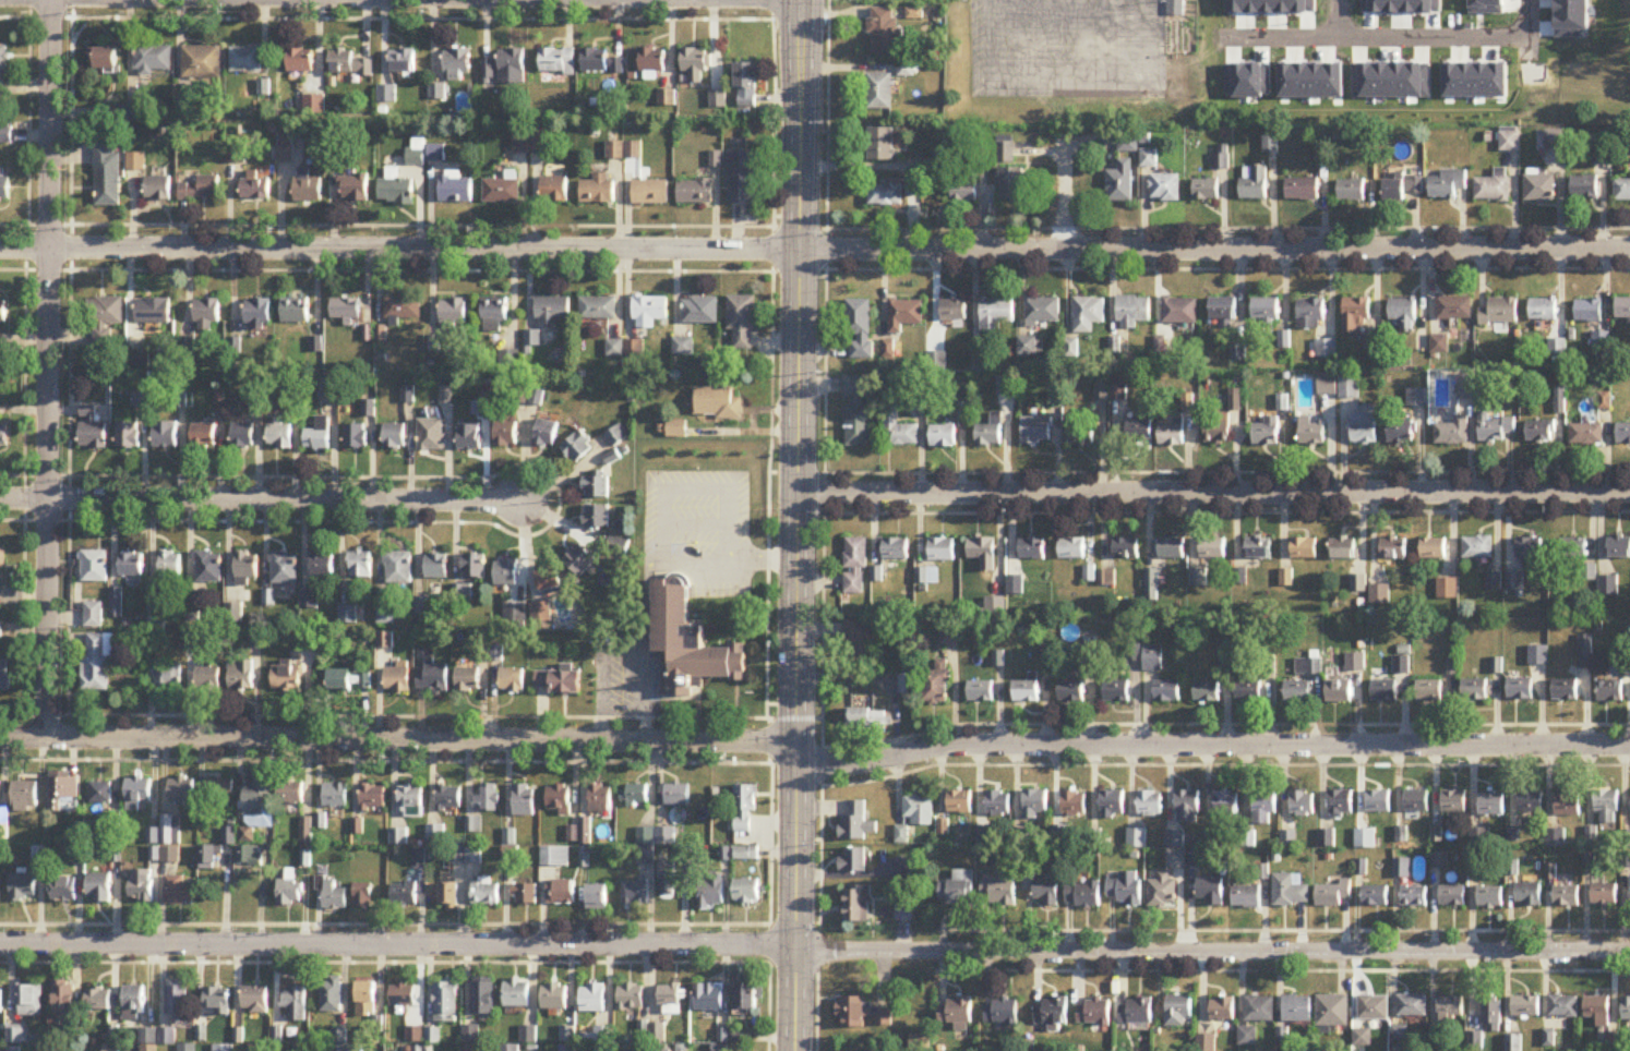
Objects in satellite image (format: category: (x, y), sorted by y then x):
building: (1176, 8)
road: (1060, 9)
road: (386, 16)
road: (1337, 19)
building: (887, 33)
road: (1389, 36)
building: (154, 59)
building: (106, 60)
building: (652, 60)
building: (247, 61)
building: (301, 61)
building: (403, 61)
building: (558, 61)
building: (202, 63)
building: (457, 63)
building: (601, 63)
building: (3, 64)
building: (349, 64)
building: (695, 65)
building: (505, 69)
road: (1017, 74)
building: (747, 85)
building: (436, 93)
building: (880, 93)
building: (314, 105)
road: (28, 111)
building: (5, 134)
building: (1555, 140)
building: (1510, 142)
building: (1129, 143)
building: (523, 145)
building: (540, 145)
building: (882, 145)
building: (1007, 154)
building: (1601, 154)
building: (286, 156)
building: (1150, 159)
building: (107, 174)
road: (827, 176)
building: (743, 177)
building: (1122, 183)
building: (1255, 183)
building: (3, 184)
building: (1448, 184)
building: (256, 185)
building: (1012, 185)
building: (1541, 186)
building: (308, 188)
building: (1494, 188)
building: (1584, 188)
building: (158, 189)
building: (201, 189)
building: (356, 189)
building: (1166, 189)
building: (1404, 189)
building: (504, 190)
building: (556, 190)
building: (600, 190)
building: (916, 190)
building: (1208, 190)
building: (1303, 190)
building: (1352, 190)
building: (397, 191)
building: (457, 191)
building: (1622, 191)
building: (651, 192)
building: (696, 192)
building: (963, 192)
road: (1067, 193)
building: (887, 195)
road: (814, 227)
road: (815, 247)
road: (814, 268)
building: (1455, 307)
building: (404, 309)
building: (599, 309)
building: (1543, 309)
building: (1622, 309)
building: (295, 310)
building: (346, 310)
building: (553, 310)
building: (1223, 310)
building: (1266, 310)
building: (106, 311)
building: (153, 311)
building: (700, 311)
building: (955, 311)
building: (1589, 311)
building: (257, 312)
building: (650, 312)
building: (1043, 312)
building: (1135, 312)
building: (1180, 312)
building: (1499, 312)
building: (454, 313)
building: (998, 313)
building: (1404, 313)
building: (2, 314)
building: (207, 314)
building: (906, 314)
building: (1311, 314)
building: (495, 315)
building: (1089, 315)
building: (1356, 315)
building: (743, 321)
building: (861, 328)
building: (1028, 346)
building: (684, 347)
building: (1326, 349)
building: (616, 353)
road: (70, 357)
road: (771, 358)
road: (47, 367)
building: (1466, 386)
building: (328, 390)
building: (718, 403)
building: (858, 410)
building: (1496, 427)
building: (1218, 428)
building: (92, 430)
building: (899, 430)
building: (1364, 430)
building: (678, 431)
building: (1036, 431)
building: (1139, 431)
building: (991, 432)
building: (1266, 432)
building: (1402, 432)
building: (1539, 432)
building: (1311, 433)
building: (1453, 433)
building: (506, 434)
building: (547, 434)
building: (1081, 434)
building: (1586, 434)
building: (1622, 434)
building: (129, 435)
building: (166, 435)
building: (203, 435)
building: (280, 435)
building: (431, 435)
building: (1172, 435)
building: (3, 436)
building: (243, 436)
building: (319, 436)
building: (356, 436)
building: (395, 436)
building: (943, 436)
building: (470, 437)
building: (618, 437)
building: (578, 448)
road: (25, 468)
road: (1199, 471)
road: (695, 487)
building: (597, 488)
road: (1213, 491)
road: (262, 497)
road: (558, 498)
road: (1226, 510)
building: (597, 518)
road: (696, 522)
parking lot: (702, 524)
road: (795, 524)
road: (823, 525)
building: (618, 547)
building: (1618, 547)
building: (1170, 548)
building: (1213, 548)
building: (1259, 548)
building: (1477, 548)
building: (1573, 548)
building: (982, 549)
building: (1033, 549)
building: (1071, 549)
building: (1126, 549)
building: (1304, 549)
building: (1344, 549)
building: (1393, 549)
building: (1434, 549)
building: (943, 551)
building: (1530, 552)
building: (897, 554)
road: (760, 558)
building: (580, 560)
building: (131, 565)
building: (361, 565)
building: (170, 566)
building: (245, 566)
building: (323, 566)
building: (855, 566)
building: (94, 567)
building: (208, 567)
building: (436, 567)
building: (474, 567)
building: (1, 568)
building: (284, 569)
building: (398, 569)
building: (506, 573)
building: (1587, 573)
building: (927, 577)
building: (1106, 578)
building: (549, 579)
building: (1198, 579)
building: (1494, 580)
building: (1016, 585)
building: (1151, 585)
building: (1358, 585)
building: (1447, 590)
building: (463, 593)
building: (1380, 595)
road: (647, 611)
building: (347, 614)
building: (541, 614)
building: (94, 615)
building: (386, 615)
building: (158, 617)
building: (950, 637)
building: (691, 644)
building: (861, 644)
building: (1584, 652)
building: (1153, 659)
building: (98, 663)
building: (1355, 663)
building: (1401, 665)
building: (1308, 667)
road: (601, 668)
parking lot: (626, 672)
building: (241, 675)
building: (5, 676)
building: (168, 678)
building: (208, 678)
building: (287, 678)
building: (398, 678)
building: (433, 678)
building: (350, 680)
building: (468, 680)
building: (513, 680)
building: (559, 682)
building: (936, 684)
building: (907, 685)
building: (1248, 687)
building: (1520, 689)
building: (1565, 690)
building: (981, 691)
building: (1117, 691)
building: (1167, 691)
building: (1207, 691)
building: (1385, 691)
building: (1429, 691)
building: (1475, 691)
building: (1610, 691)
building: (1027, 692)
building: (1070, 692)
building: (1298, 692)
building: (1339, 692)
road: (780, 702)
road: (410, 714)
building: (866, 722)
road: (1224, 723)
road: (397, 736)
road: (768, 739)
road: (1211, 744)
road: (385, 759)
road: (1224, 763)
building: (0, 785)
building: (220, 788)
building: (182, 789)
building: (63, 793)
building: (293, 793)
building: (101, 794)
building: (139, 794)
building: (336, 795)
building: (678, 795)
building: (26, 797)
building: (373, 797)
building: (450, 798)
building: (601, 798)
building: (488, 799)
building: (560, 799)
building: (1531, 799)
building: (525, 800)
building: (411, 801)
building: (1379, 801)
building: (1417, 801)
building: (256, 802)
building: (960, 802)
building: (1072, 802)
building: (1341, 802)
building: (1454, 802)
building: (998, 804)
building: (1112, 804)
building: (1150, 804)
building: (1302, 804)
building: (1035, 805)
building: (1225, 805)
building: (1491, 805)
building: (1568, 806)
building: (1187, 807)
building: (1607, 807)
building: (1263, 808)
building: (920, 811)
building: (746, 813)
building: (858, 823)
building: (475, 824)
building: (171, 830)
building: (585, 831)
building: (1060, 834)
building: (229, 835)
building: (435, 835)
building: (667, 836)
building: (399, 837)
building: (1137, 838)
building: (1327, 838)
building: (1289, 839)
building: (1365, 839)
building: (646, 846)
building: (745, 854)
building: (250, 855)
building: (469, 855)
building: (208, 857)
building: (555, 857)
building: (586, 857)
building: (1176, 858)
building: (853, 862)
building: (668, 878)
building: (142, 886)
building: (24, 887)
building: (100, 889)
building: (958, 890)
building: (1042, 890)
building: (1127, 890)
building: (1163, 890)
building: (0, 891)
building: (64, 891)
building: (290, 891)
building: (1290, 891)
building: (180, 892)
building: (746, 892)
building: (1212, 892)
building: (487, 893)
building: (526, 893)
building: (564, 893)
building: (999, 893)
building: (405, 894)
building: (635, 894)
building: (1070, 894)
building: (1333, 894)
building: (711, 895)
building: (1089, 895)
building: (1529, 895)
building: (335, 896)
building: (363, 896)
building: (450, 896)
building: (1375, 896)
building: (1605, 896)
building: (597, 897)
building: (1247, 897)
building: (1414, 897)
building: (1452, 897)
building: (1567, 897)
building: (1490, 898)
road: (769, 906)
building: (858, 906)
building: (904, 914)
road: (384, 922)
road: (1282, 928)
road: (814, 947)
road: (384, 961)
road: (1281, 969)
building: (517, 993)
building: (333, 995)
building: (404, 995)
building: (555, 996)
building: (671, 996)
building: (631, 998)
building: (708, 998)
building: (64, 999)
building: (483, 999)
building: (594, 999)
building: (1, 1000)
building: (99, 1000)
building: (218, 1000)
building: (256, 1000)
building: (747, 1000)
building: (178, 1001)
building: (368, 1001)
building: (29, 1002)
building: (446, 1002)
building: (134, 1003)
building: (297, 1004)
building: (1412, 1006)
building: (1526, 1007)
building: (1563, 1007)
building: (1374, 1008)
building: (1451, 1008)
building: (1223, 1010)
building: (1259, 1010)
building: (1297, 1010)
building: (1626, 1010)
building: (1179, 1011)
building: (1598, 1011)
building: (1136, 1012)
building: (1332, 1012)
building: (1000, 1013)
building: (956, 1014)
building: (1051, 1014)
building: (1093, 1014)
building: (862, 1015)
building: (1491, 1016)
building: (20, 1036)
building: (1248, 1037)
building: (149, 1040)
building: (344, 1042)
building: (1475, 1042)
building: (1207, 1043)
building: (1514, 1043)
building: (568, 1048)
building: (511, 1049)
building: (14, 1050)

